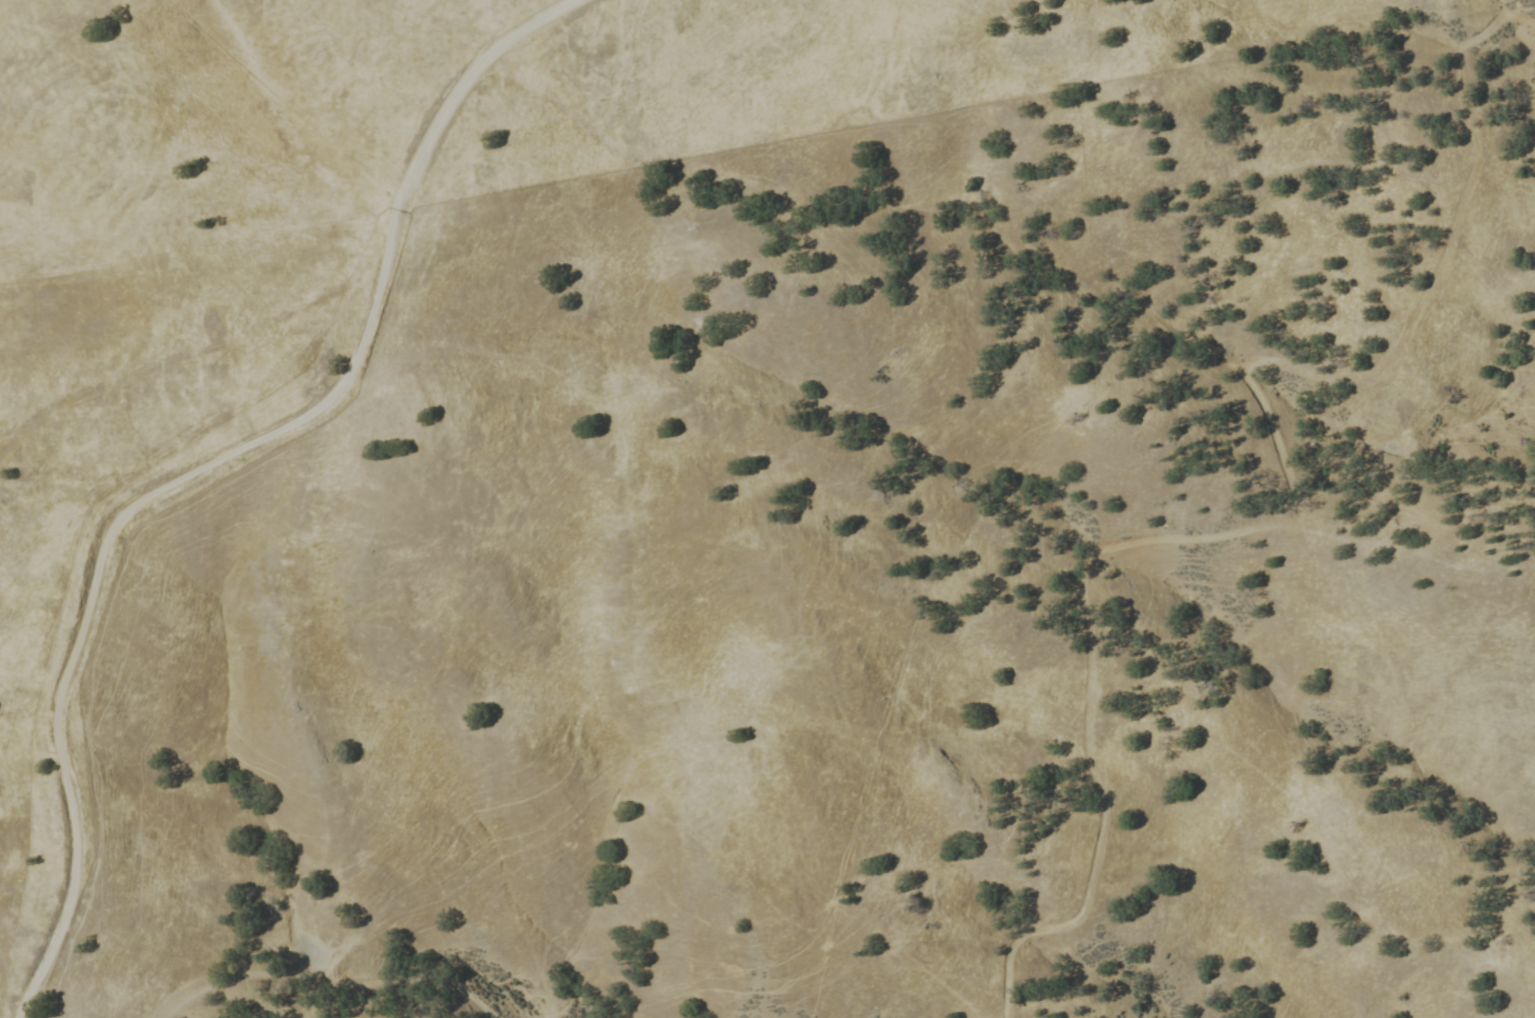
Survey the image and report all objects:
road: (207, 464)

